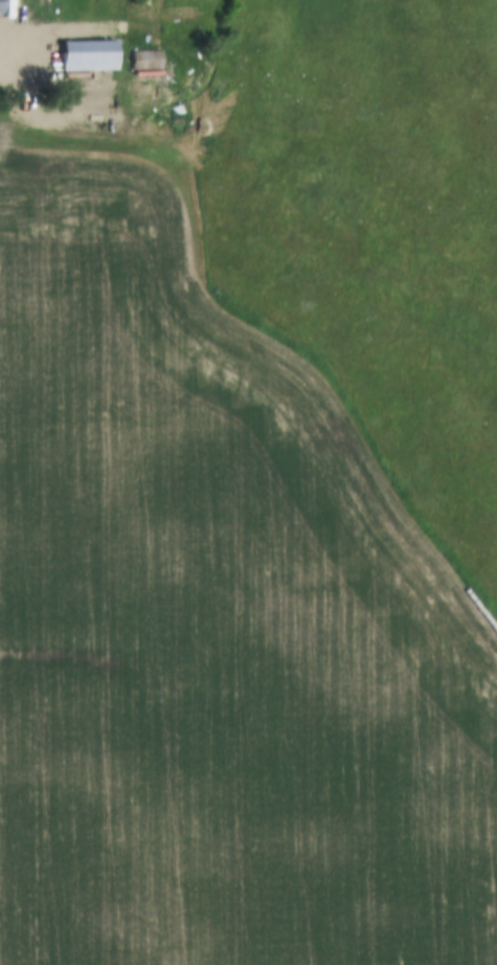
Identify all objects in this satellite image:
building: (89, 57)
building: (147, 61)

